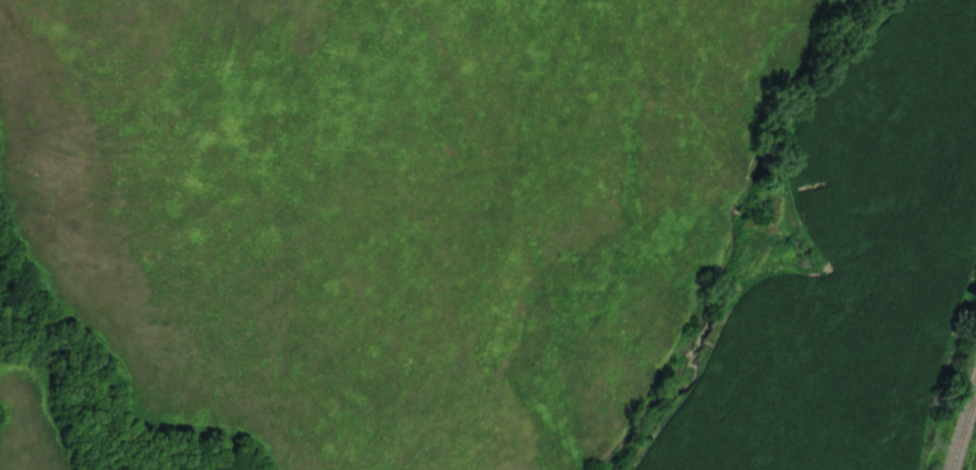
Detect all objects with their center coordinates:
railway: (963, 428)

